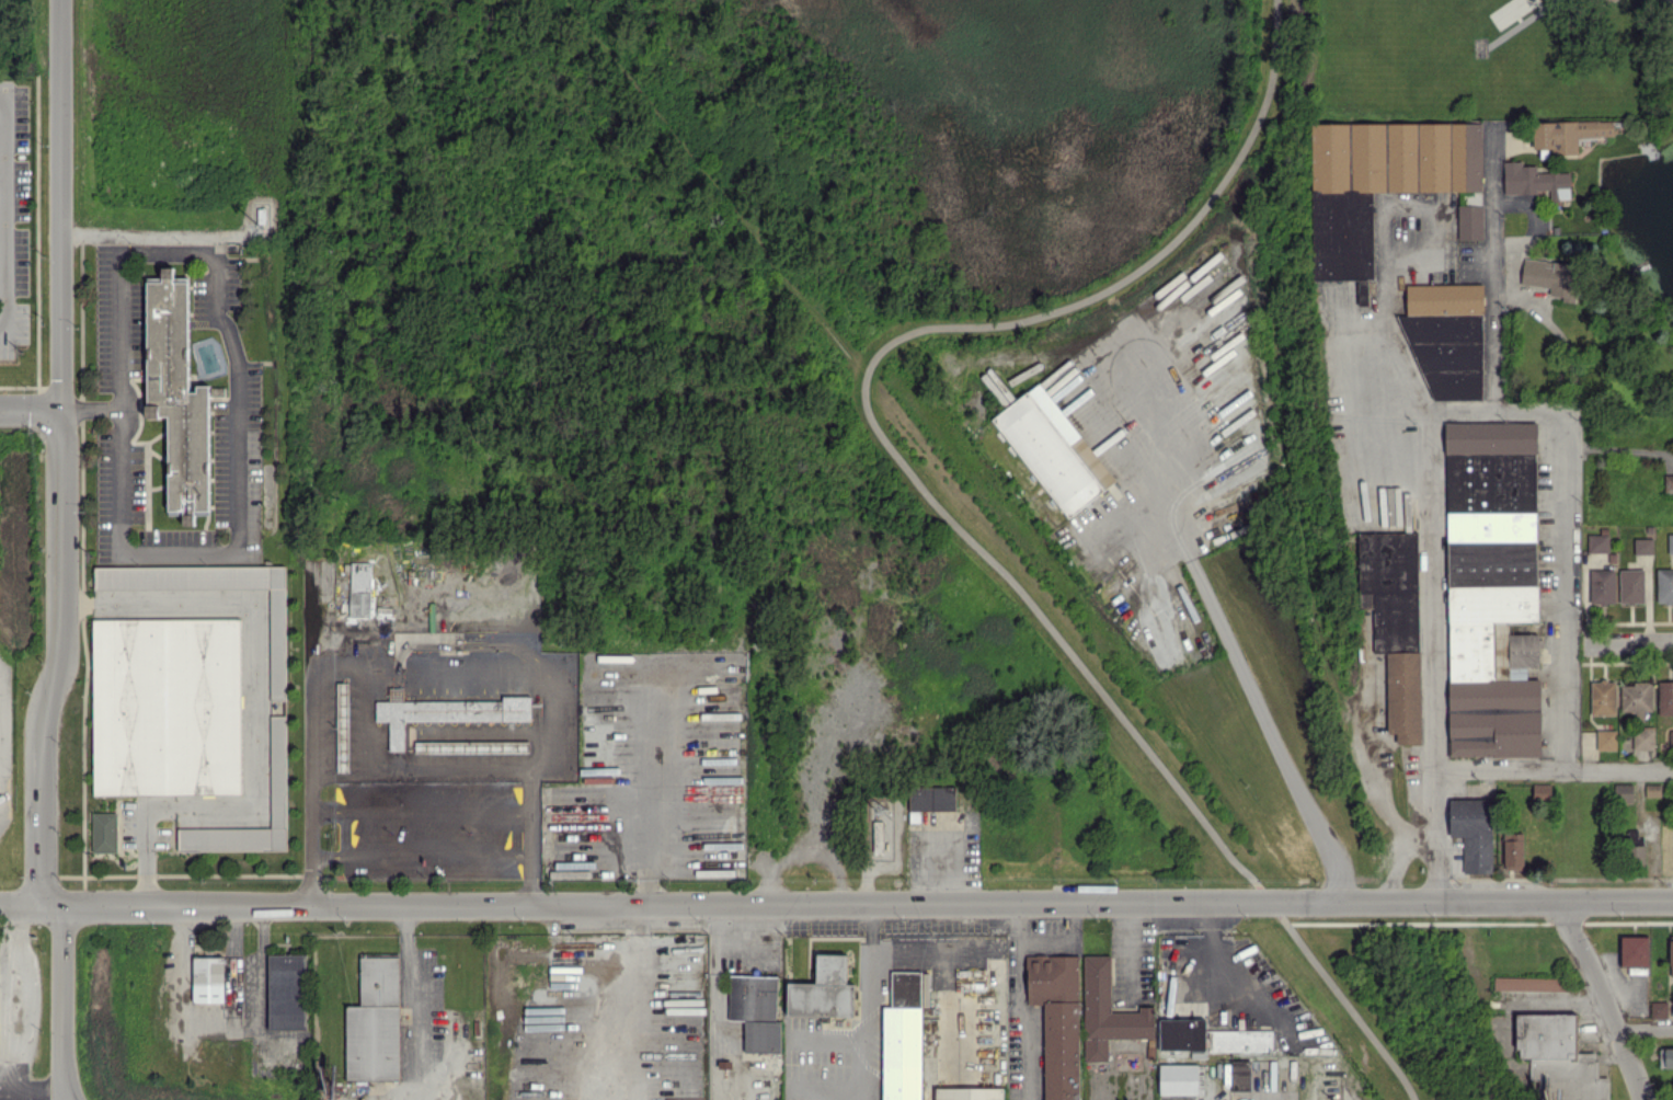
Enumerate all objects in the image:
park: (1486, 58)
building: (1567, 134)
building: (1535, 180)
building: (1379, 183)
road: (59, 204)
road: (1, 210)
building: (1470, 221)
road: (1180, 234)
road: (1383, 249)
road: (1492, 268)
building: (1551, 276)
building: (1446, 337)
road: (118, 362)
building: (176, 397)
road: (30, 409)
road: (1493, 410)
road: (1617, 446)
building: (1052, 449)
road: (236, 480)
building: (1668, 483)
building: (1597, 542)
building: (1670, 542)
building: (1642, 546)
building: (1602, 585)
building: (1664, 585)
building: (1630, 586)
building: (359, 588)
building: (1492, 588)
road: (1561, 591)
road: (1022, 596)
building: (1394, 621)
road: (1630, 643)
building: (277, 644)
road: (1426, 657)
road: (59, 662)
road: (337, 667)
building: (1602, 697)
building: (1635, 697)
building: (1664, 697)
road: (1256, 703)
building: (165, 706)
building: (446, 711)
road: (254, 715)
road: (363, 719)
building: (342, 725)
building: (1642, 737)
building: (1671, 738)
road: (312, 740)
building: (1605, 740)
building: (471, 745)
building: (277, 770)
road: (1496, 771)
road: (1618, 771)
building: (1652, 790)
building: (1540, 791)
building: (1623, 792)
building: (930, 799)
road: (421, 810)
building: (104, 832)
building: (1474, 832)
road: (645, 847)
building: (1636, 848)
building: (1668, 849)
building: (1513, 850)
road: (421, 853)
road: (1267, 896)
road: (867, 906)
road: (30, 908)
road: (1277, 909)
road: (1061, 938)
building: (1632, 951)
building: (1671, 958)
road: (944, 975)
building: (208, 978)
building: (1529, 983)
building: (823, 989)
building: (286, 990)
road: (18, 996)
road: (1603, 1001)
road: (415, 1002)
road: (869, 1002)
road: (60, 1004)
road: (1019, 1004)
road: (1348, 1006)
building: (1659, 1009)
building: (755, 1010)
building: (1108, 1011)
building: (1057, 1020)
building: (374, 1021)
road: (1643, 1029)
road: (218, 1032)
building: (1181, 1034)
building: (902, 1038)
building: (1240, 1040)
building: (1558, 1056)
building: (1665, 1056)
building: (1240, 1075)
building: (1180, 1079)
road: (31, 1085)
building: (969, 1093)

